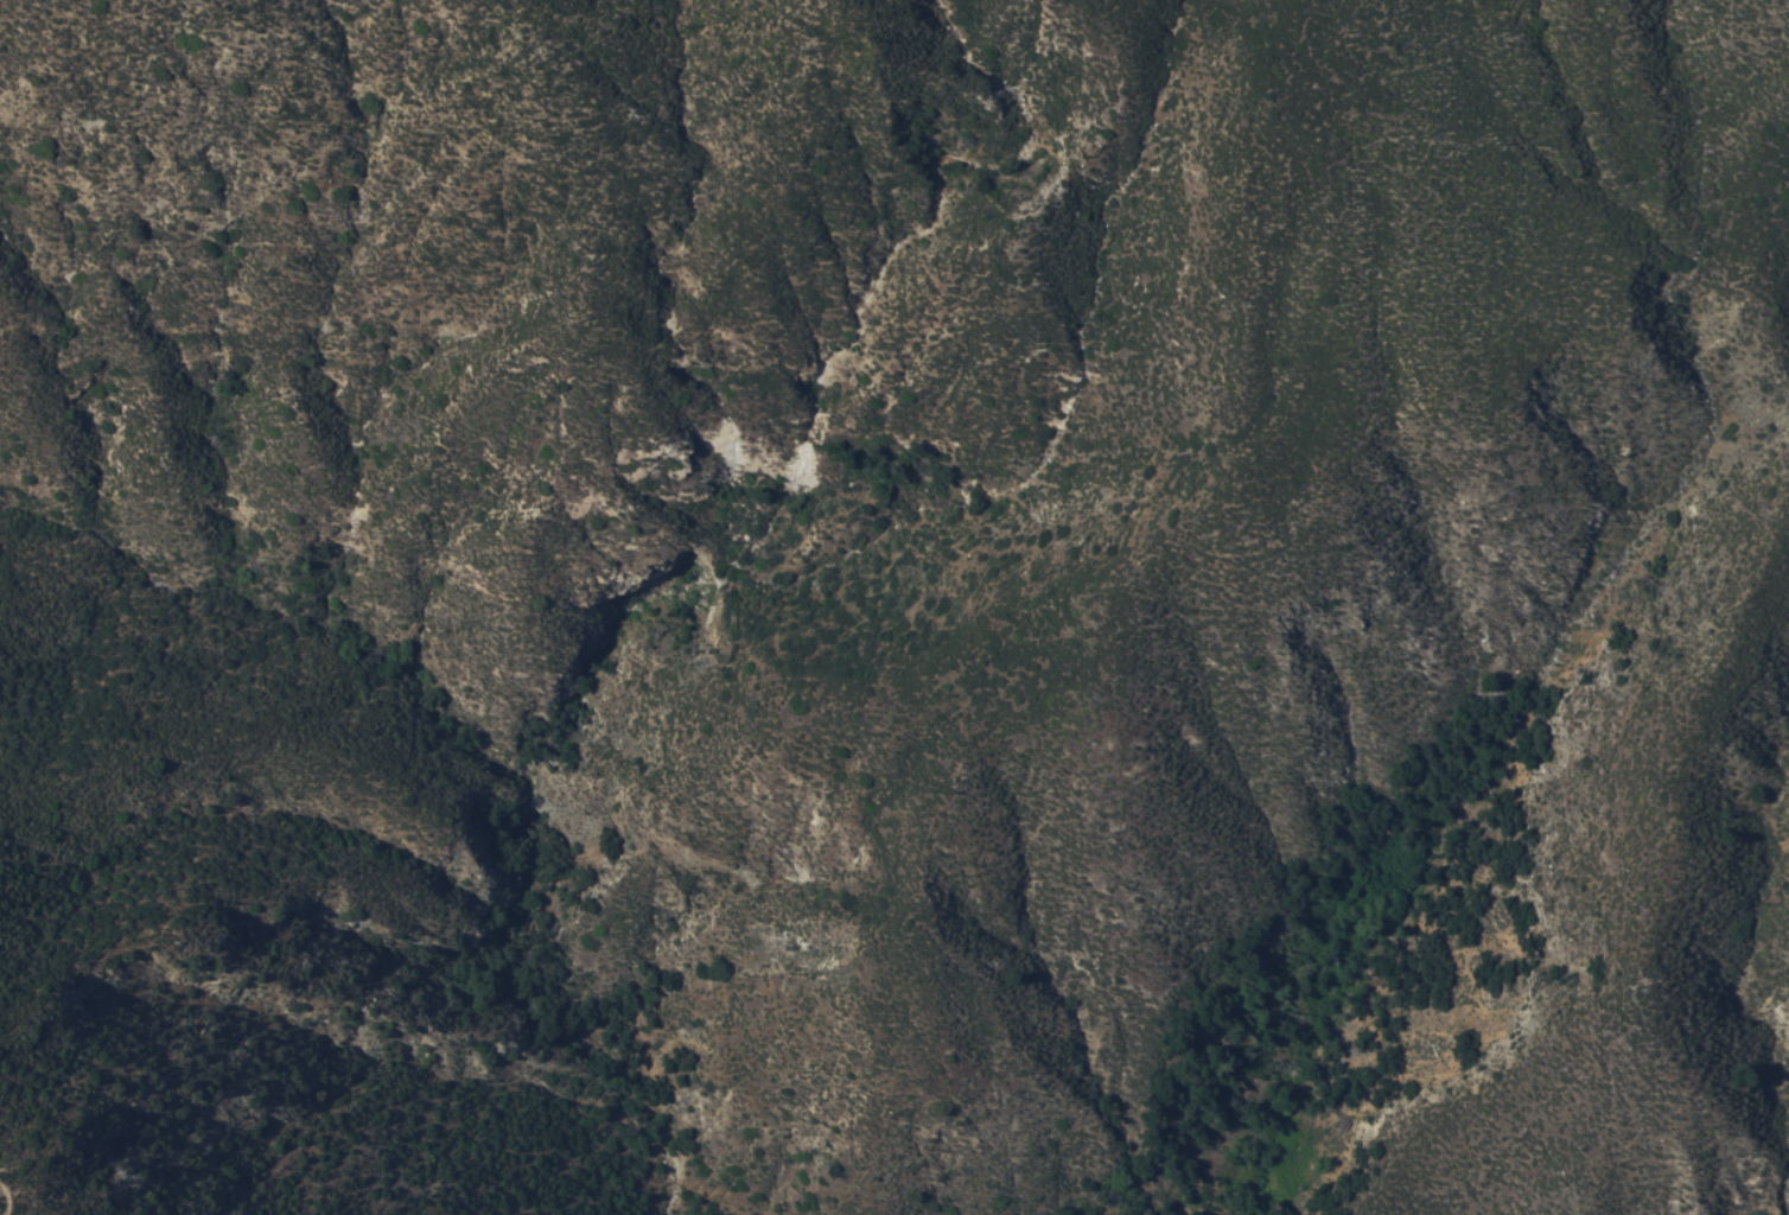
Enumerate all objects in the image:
road: (6, 1201)

